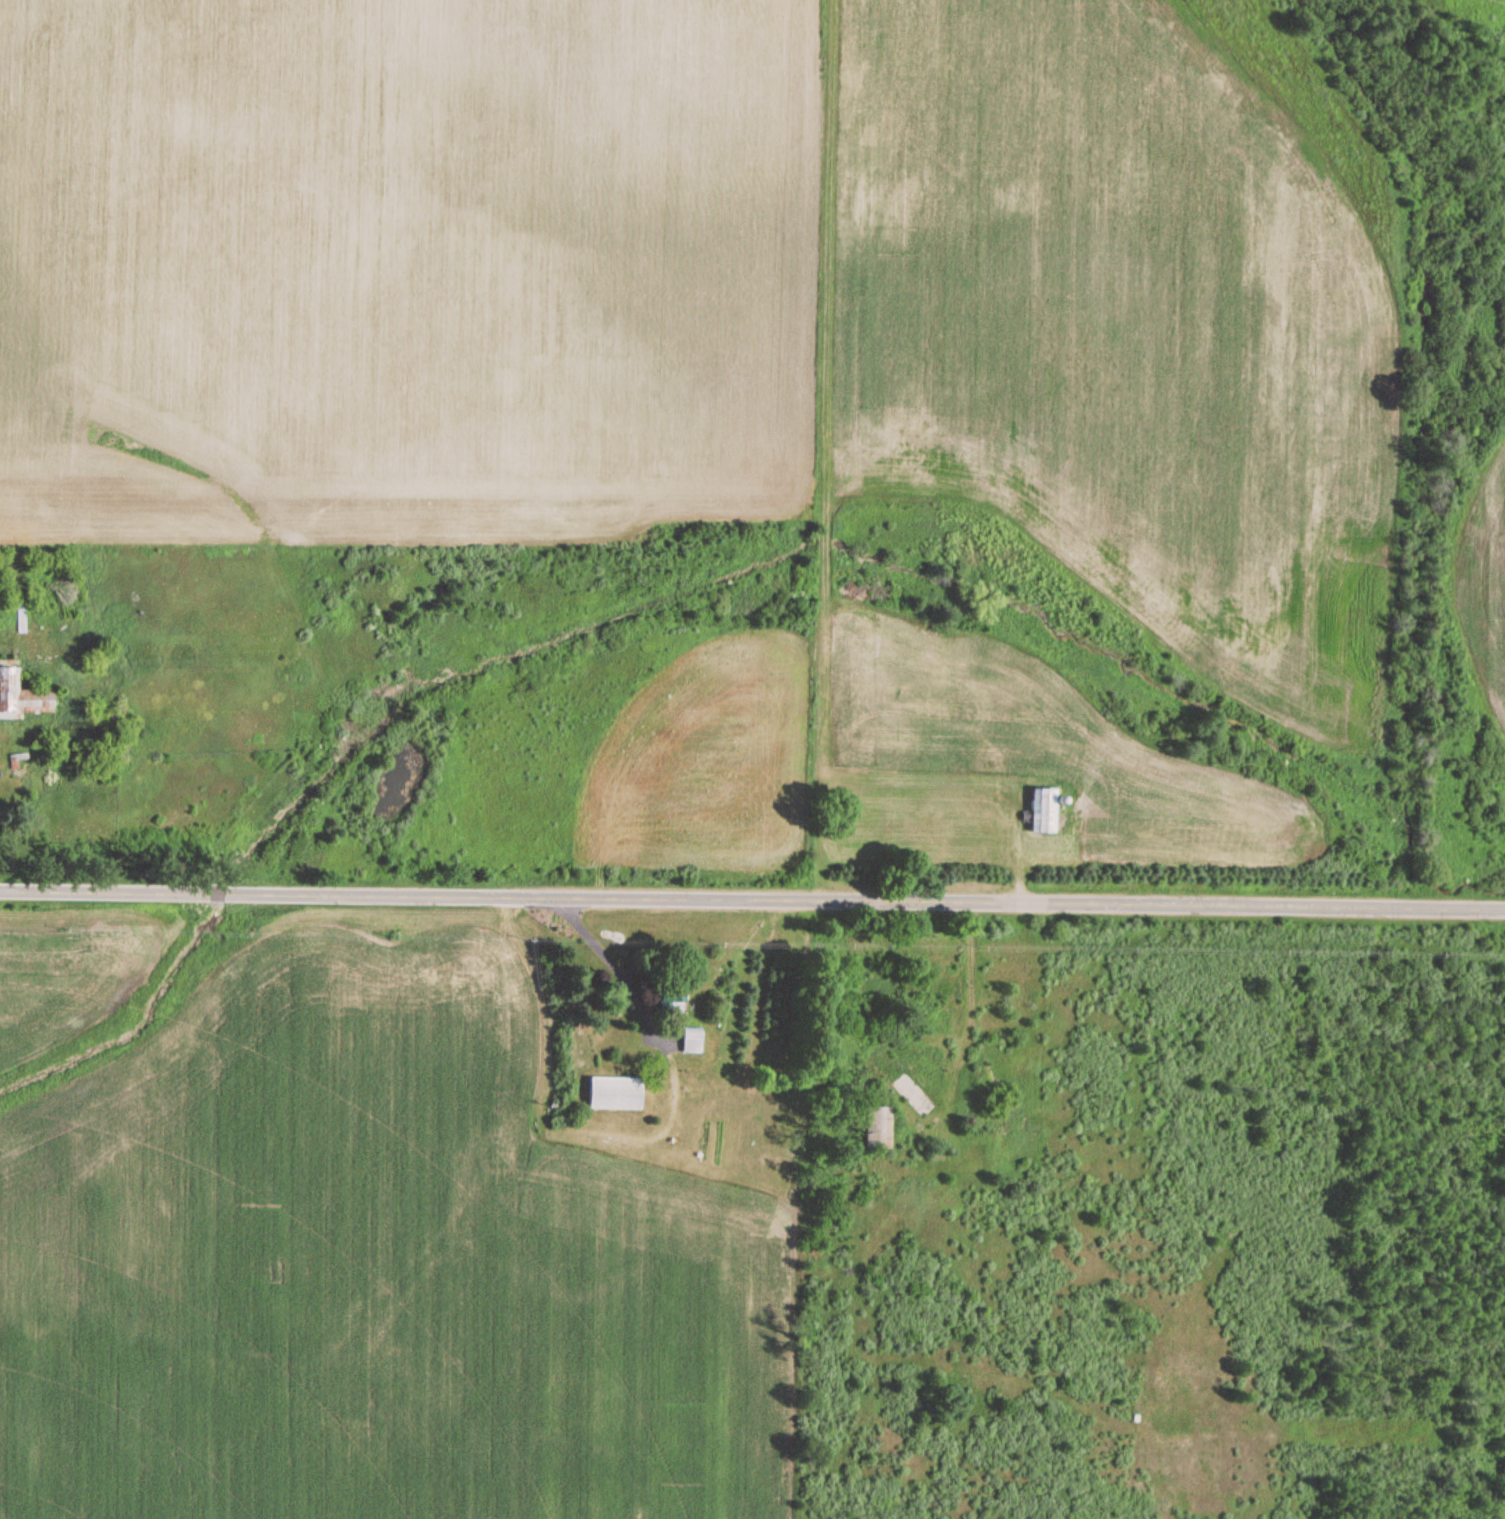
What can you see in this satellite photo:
building: (19, 616)
building: (18, 697)
building: (1039, 813)
road: (752, 896)
building: (670, 1004)
building: (612, 1094)
building: (910, 1096)
building: (874, 1123)
crop: (372, 1266)

